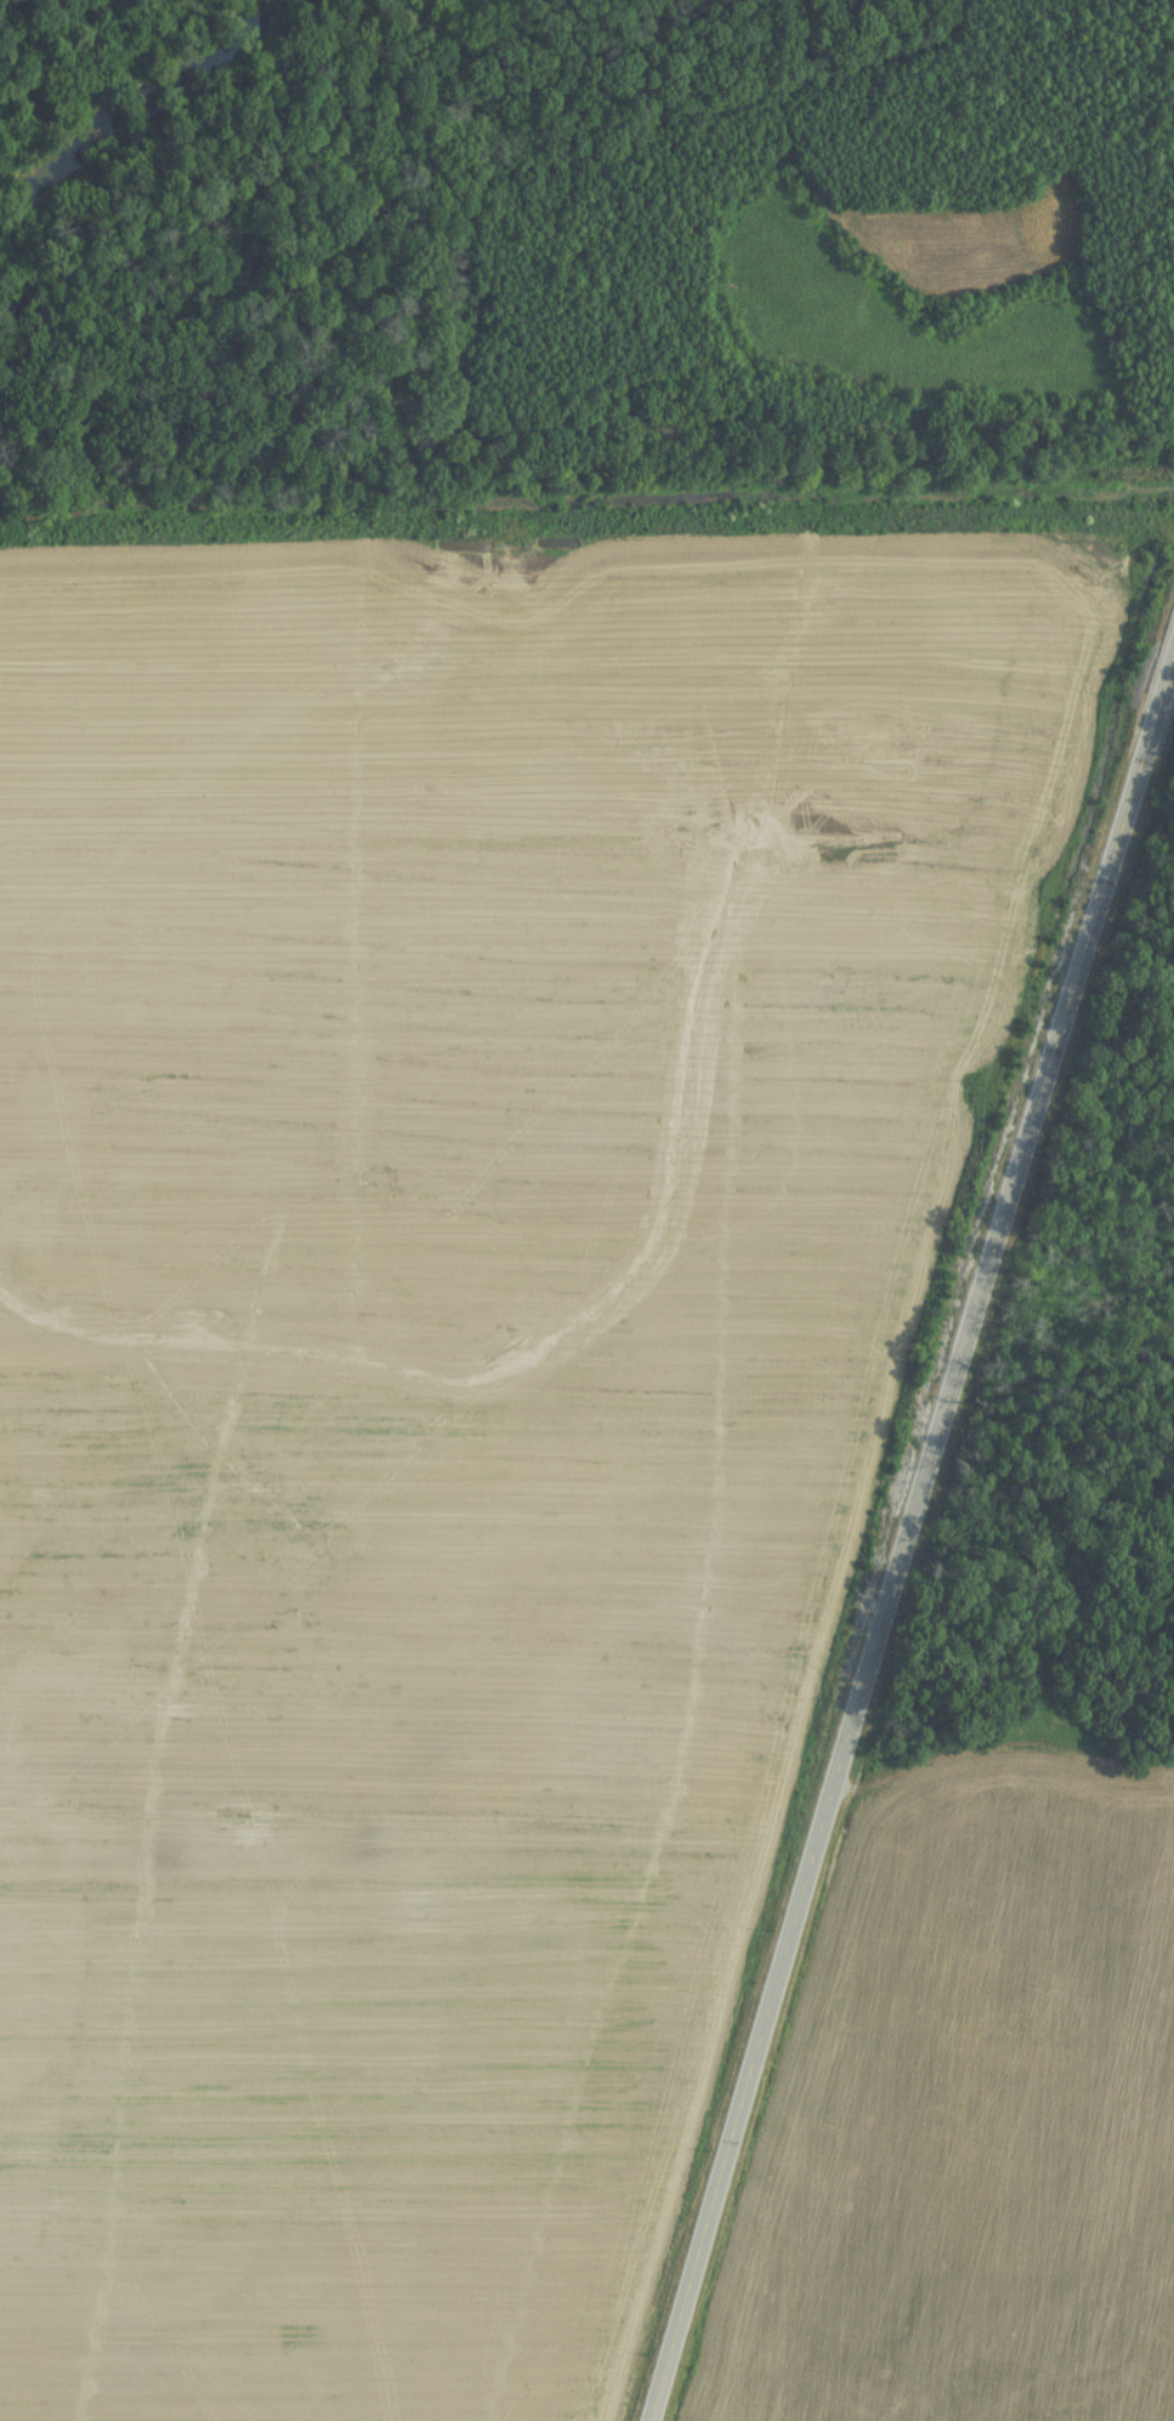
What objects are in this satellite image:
road: (903, 1533)

